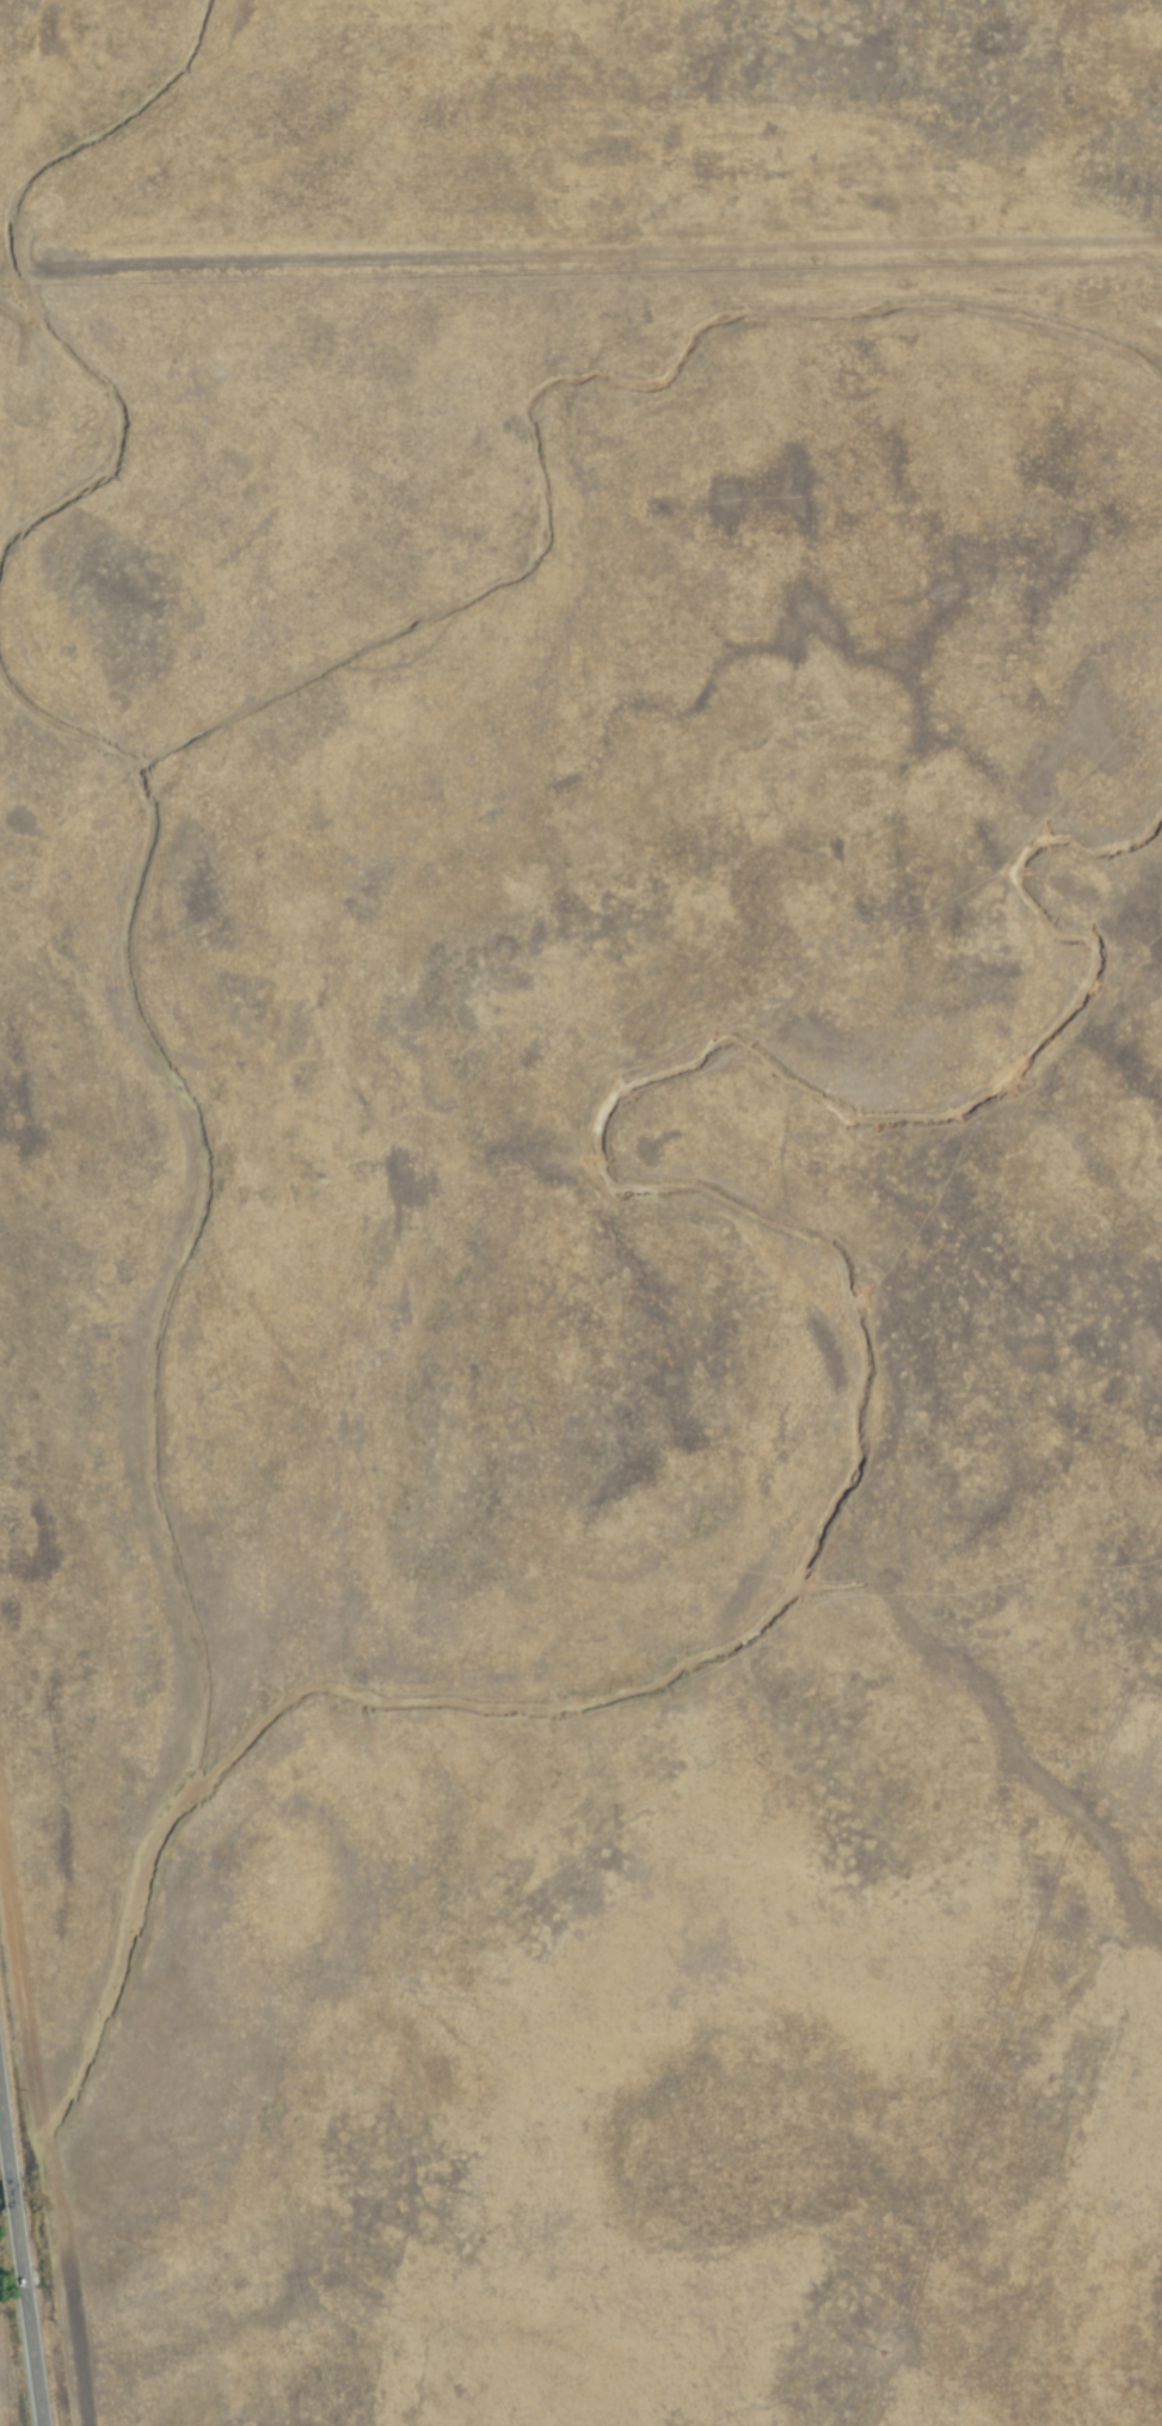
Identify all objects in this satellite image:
road: (20, 2275)

